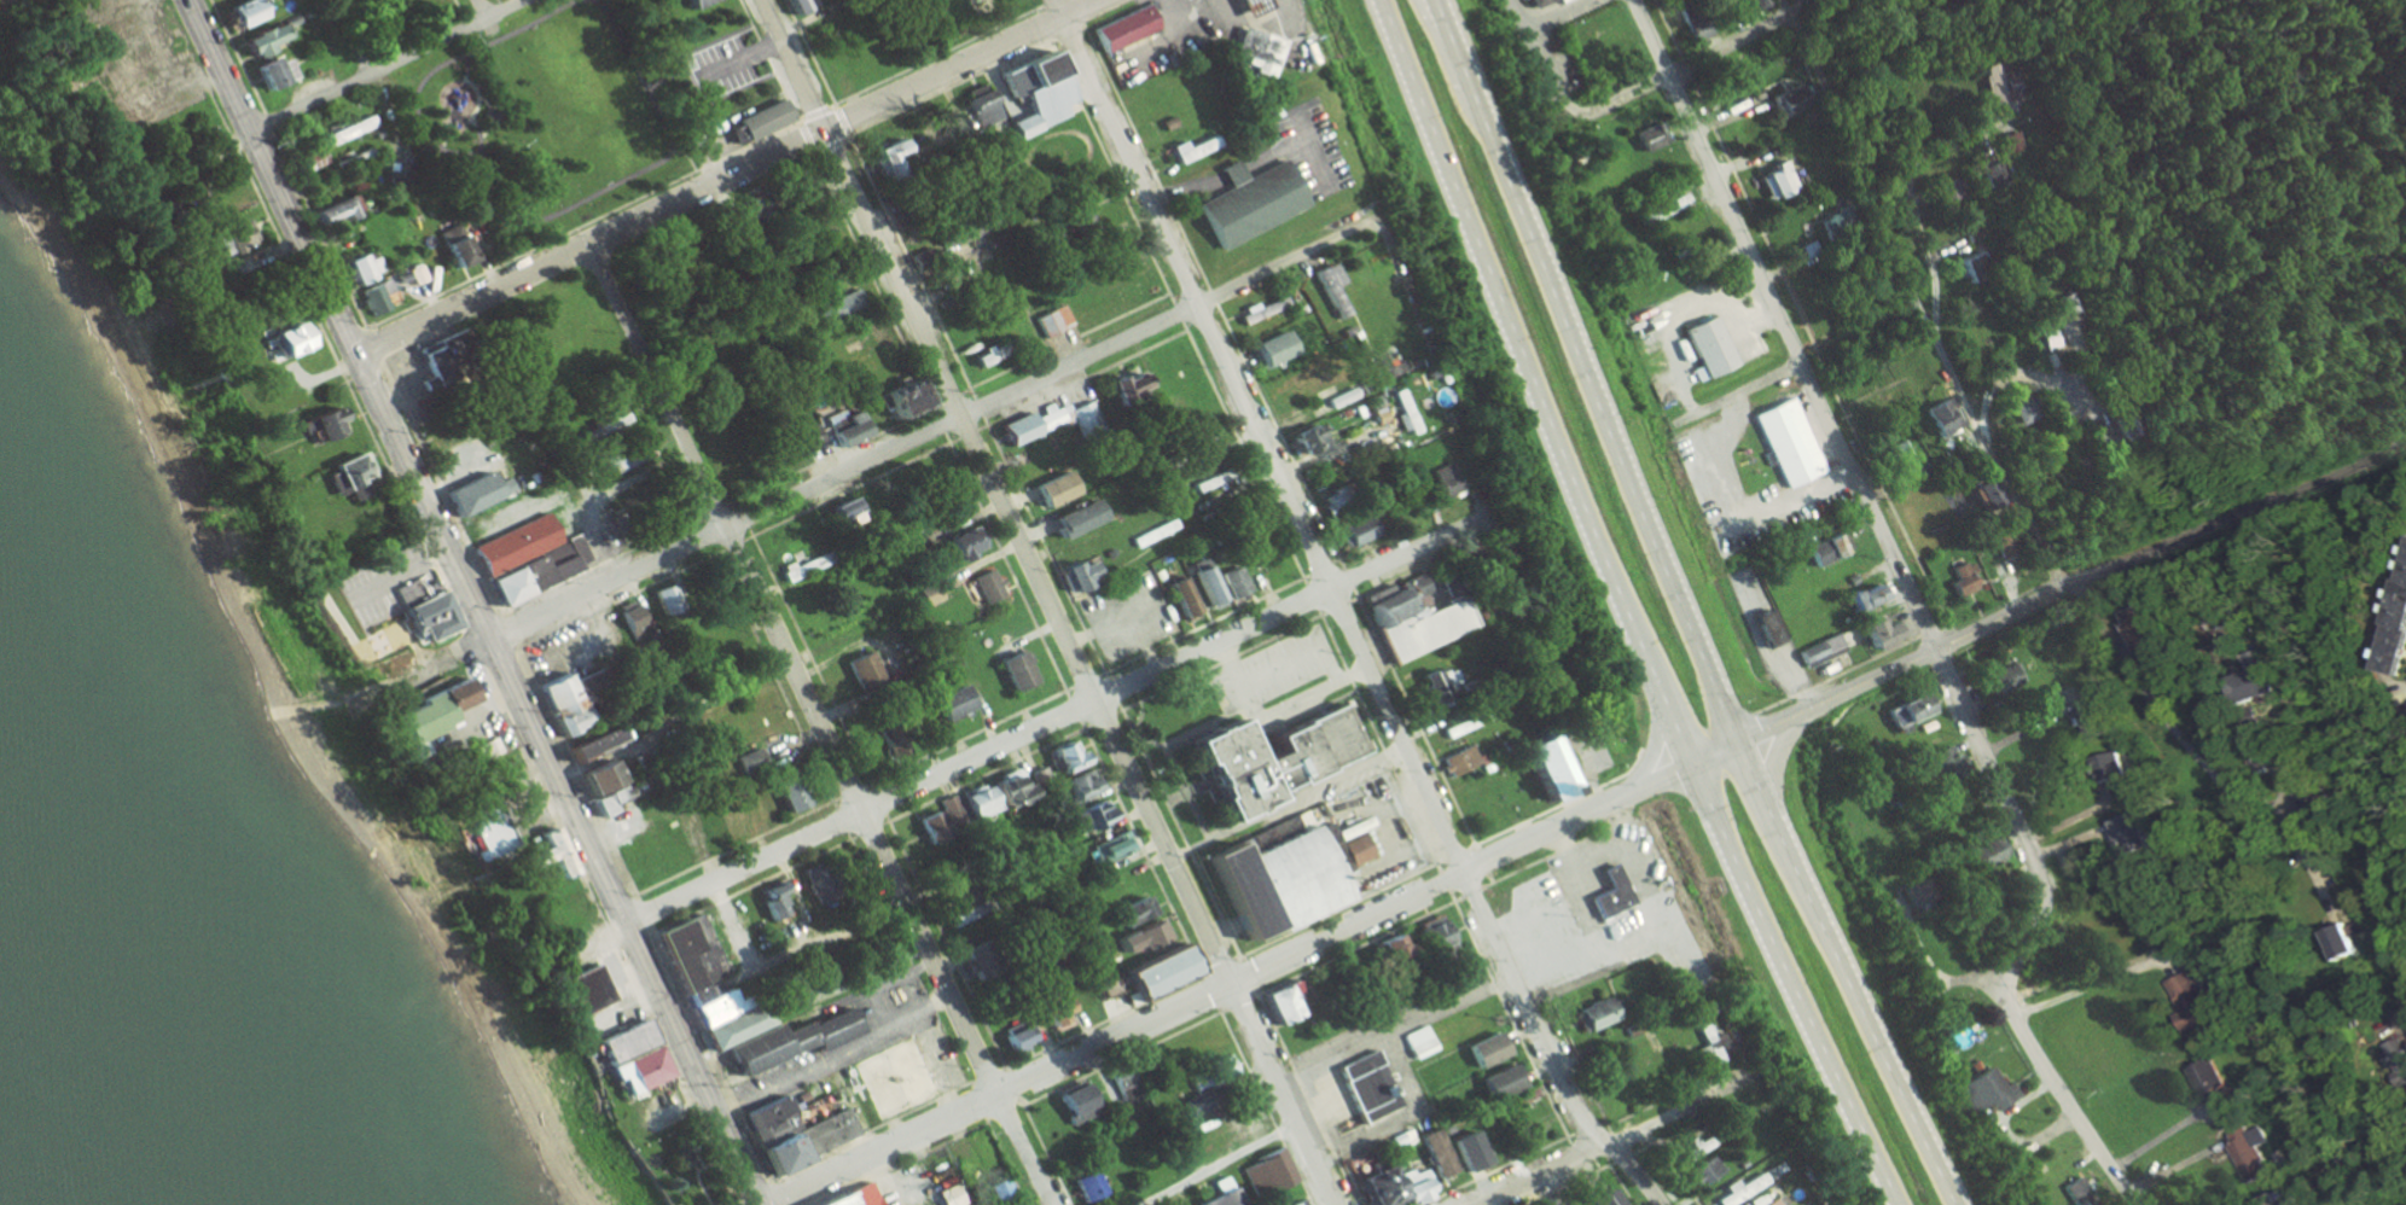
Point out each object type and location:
building: (1533, 1)
road: (1042, 2)
building: (693, 4)
building: (1762, 4)
building: (923, 5)
road: (500, 6)
building: (791, 6)
building: (1249, 7)
gas station: (1249, 7)
road: (1794, 7)
road: (480, 10)
building: (239, 11)
road: (460, 14)
road: (1073, 14)
road: (1547, 21)
road: (1042, 22)
road: (1248, 22)
building: (1695, 25)
building: (1121, 29)
road: (1065, 34)
road: (350, 39)
road: (1449, 40)
building: (254, 42)
road: (807, 52)
road: (236, 54)
road: (932, 56)
building: (1260, 58)
road: (634, 59)
road: (739, 59)
road: (768, 60)
road: (389, 66)
parking lot: (720, 66)
road: (469, 69)
building: (269, 72)
road: (1672, 75)
road: (675, 76)
road: (1552, 76)
road: (946, 86)
building: (2010, 86)
building: (1035, 94)
building: (1789, 101)
park: (579, 106)
building: (977, 107)
road: (813, 113)
building: (489, 116)
road: (837, 120)
road: (268, 123)
building: (760, 123)
building: (345, 132)
road: (803, 136)
building: (1647, 139)
building: (2018, 141)
road: (826, 144)
road: (444, 145)
building: (1189, 150)
building: (882, 156)
building: (310, 159)
road: (1145, 159)
road: (693, 165)
road: (1111, 170)
building: (1997, 175)
road: (273, 179)
road: (730, 179)
building: (1777, 180)
building: (1952, 191)
road: (1913, 192)
building: (1245, 206)
building: (1668, 206)
building: (336, 210)
building: (744, 213)
building: (1840, 221)
road: (579, 223)
building: (819, 225)
road: (318, 233)
road: (515, 237)
building: (229, 238)
building: (452, 246)
building: (1969, 266)
road: (908, 267)
building: (360, 269)
road: (872, 281)
building: (1329, 287)
road: (1213, 296)
building: (373, 298)
building: (832, 304)
road: (1178, 312)
building: (1051, 320)
building: (2061, 333)
building: (285, 342)
road: (1064, 342)
road: (372, 345)
building: (1268, 348)
building: (1708, 349)
road: (331, 351)
building: (432, 361)
road: (362, 371)
road: (2033, 374)
road: (1081, 379)
building: (1121, 386)
road: (1737, 394)
building: (900, 395)
road: (946, 398)
building: (1339, 398)
road: (977, 407)
building: (2028, 409)
building: (1402, 411)
building: (1081, 413)
building: (1946, 415)
building: (1046, 417)
road: (938, 423)
building: (2133, 424)
building: (318, 425)
building: (843, 426)
building: (1015, 429)
road: (969, 433)
road: (1277, 436)
building: (1302, 437)
road: (1836, 437)
building: (800, 438)
road: (901, 442)
building: (1789, 446)
road: (1243, 452)
building: (623, 454)
road: (827, 454)
road: (1994, 456)
building: (1904, 458)
building: (348, 472)
building: (1443, 479)
building: (1050, 488)
road: (437, 489)
road: (850, 489)
building: (478, 495)
building: (1984, 496)
building: (1425, 505)
building: (841, 510)
road: (711, 511)
road: (2238, 512)
road: (744, 513)
building: (1073, 518)
building: (1350, 530)
road: (704, 531)
building: (1152, 532)
building: (961, 542)
building: (2009, 543)
road: (734, 546)
road: (1044, 546)
building: (1826, 547)
building: (513, 548)
road: (595, 565)
road: (1005, 565)
building: (802, 567)
road: (1321, 569)
building: (1071, 574)
road: (1326, 576)
road: (1347, 576)
building: (534, 578)
building: (1964, 580)
building: (1232, 581)
building: (1203, 583)
building: (986, 584)
building: (403, 592)
building: (926, 593)
building: (1175, 595)
road: (1310, 595)
building: (1862, 595)
road: (621, 598)
building: (662, 598)
road: (1047, 601)
road: (1342, 605)
road: (1625, 607)
building: (428, 615)
building: (626, 616)
building: (2394, 621)
road: (478, 622)
road: (1203, 624)
building: (1416, 625)
building: (2143, 625)
building: (1763, 628)
road: (505, 629)
building: (1877, 630)
road: (440, 640)
road: (472, 648)
road: (1696, 648)
building: (1819, 651)
road: (499, 657)
road: (1296, 657)
road: (812, 658)
road: (1220, 663)
building: (858, 668)
building: (1011, 670)
road: (773, 675)
building: (1446, 677)
building: (2004, 677)
building: (2249, 679)
road: (1085, 680)
building: (1426, 687)
road: (1112, 691)
building: (558, 702)
building: (947, 702)
building: (1906, 708)
road: (1074, 709)
building: (431, 712)
building: (2088, 712)
road: (1222, 714)
road: (1303, 714)
road: (1274, 716)
road: (1059, 717)
road: (1103, 717)
road: (1413, 717)
flagpole: (1139, 720)
road: (821, 724)
building: (1463, 724)
road: (1195, 730)
road: (967, 735)
building: (887, 739)
road: (1378, 739)
building: (587, 741)
building: (1306, 746)
building: (487, 749)
building: (1062, 755)
building: (748, 761)
building: (1457, 761)
building: (1946, 762)
building: (2103, 766)
building: (1548, 767)
building: (1225, 768)
road: (574, 769)
road: (987, 773)
building: (593, 776)
road: (1180, 779)
road: (558, 781)
building: (1076, 784)
road: (2274, 787)
building: (1006, 788)
road: (850, 791)
building: (783, 792)
road: (1184, 792)
building: (2295, 801)
road: (879, 802)
building: (975, 802)
road: (1285, 802)
road: (1557, 804)
building: (1086, 814)
road: (839, 819)
building: (937, 819)
building: (487, 828)
road: (868, 828)
road: (1180, 833)
building: (2125, 834)
building: (1353, 842)
road: (736, 846)
building: (1111, 846)
road: (1141, 850)
building: (545, 852)
building: (1342, 852)
road: (1453, 852)
road: (1554, 852)
building: (1983, 852)
road: (1481, 860)
road: (708, 861)
road: (783, 871)
building: (810, 878)
road: (1489, 878)
road: (1445, 880)
building: (1274, 886)
road: (1471, 891)
building: (1913, 892)
road: (1419, 893)
building: (1609, 893)
building: (769, 898)
road: (878, 900)
road: (1337, 909)
building: (1128, 912)
road: (641, 914)
road: (680, 920)
building: (1432, 932)
road: (2034, 932)
road: (610, 936)
building: (1134, 936)
building: (2338, 938)
road: (947, 943)
road: (1198, 944)
road: (1358, 945)
building: (1387, 947)
building: (695, 957)
building: (966, 959)
road: (1220, 964)
building: (1157, 973)
road: (1249, 974)
road: (1970, 982)
road: (2090, 983)
road: (1210, 991)
building: (582, 992)
building: (1278, 1001)
building: (2185, 1001)
road: (1238, 1002)
building: (714, 1009)
building: (1052, 1012)
building: (1593, 1014)
road: (1507, 1017)
road: (1104, 1019)
road: (2401, 1023)
road: (1390, 1024)
building: (732, 1028)
building: (1015, 1037)
building: (1417, 1042)
building: (1710, 1042)
building: (626, 1043)
building: (794, 1043)
building: (1482, 1049)
road: (833, 1055)
road: (708, 1056)
building: (2396, 1056)
road: (1123, 1058)
road: (1576, 1063)
building: (638, 1071)
building: (1205, 1071)
road: (986, 1073)
building: (2203, 1077)
building: (1122, 1082)
building: (1495, 1082)
road: (1013, 1084)
building: (1368, 1089)
building: (1982, 1090)
road: (1669, 1094)
road: (1307, 1096)
road: (2063, 1098)
building: (1073, 1104)
building: (1196, 1104)
road: (1266, 1105)
road: (1004, 1111)
road: (1324, 1112)
building: (769, 1122)
flagpole: (1348, 1127)
road: (868, 1129)
road: (1585, 1129)
flagpole: (1343, 1130)
road: (1625, 1139)
road: (2039, 1139)
building: (807, 1140)
road: (696, 1151)
road: (1044, 1151)
building: (1465, 1151)
road: (1577, 1151)
building: (2249, 1152)
building: (1432, 1153)
road: (1623, 1158)
road: (720, 1162)
road: (903, 1163)
park: (685, 1164)
road: (1006, 1164)
road: (1668, 1164)
road: (1220, 1165)
road: (1592, 1166)
road: (1494, 1169)
building: (1703, 1170)
building: (1774, 1171)
road: (695, 1174)
road: (713, 1176)
building: (1268, 1176)
road: (1627, 1176)
park: (608, 1181)
road: (1571, 1183)
building: (1410, 1184)
building: (1083, 1186)
road: (1617, 1186)
building: (1739, 1189)
road: (773, 1191)
building: (1000, 1191)
building: (2075, 1192)
building: (859, 1197)
building: (1602, 1198)
road: (722, 1199)
building: (1224, 1199)
building: (1757, 1200)
building: (2282, 1201)
building: (1771, 1203)
park: (737, 1204)
road: (738, 1204)
building: (1552, 1204)

